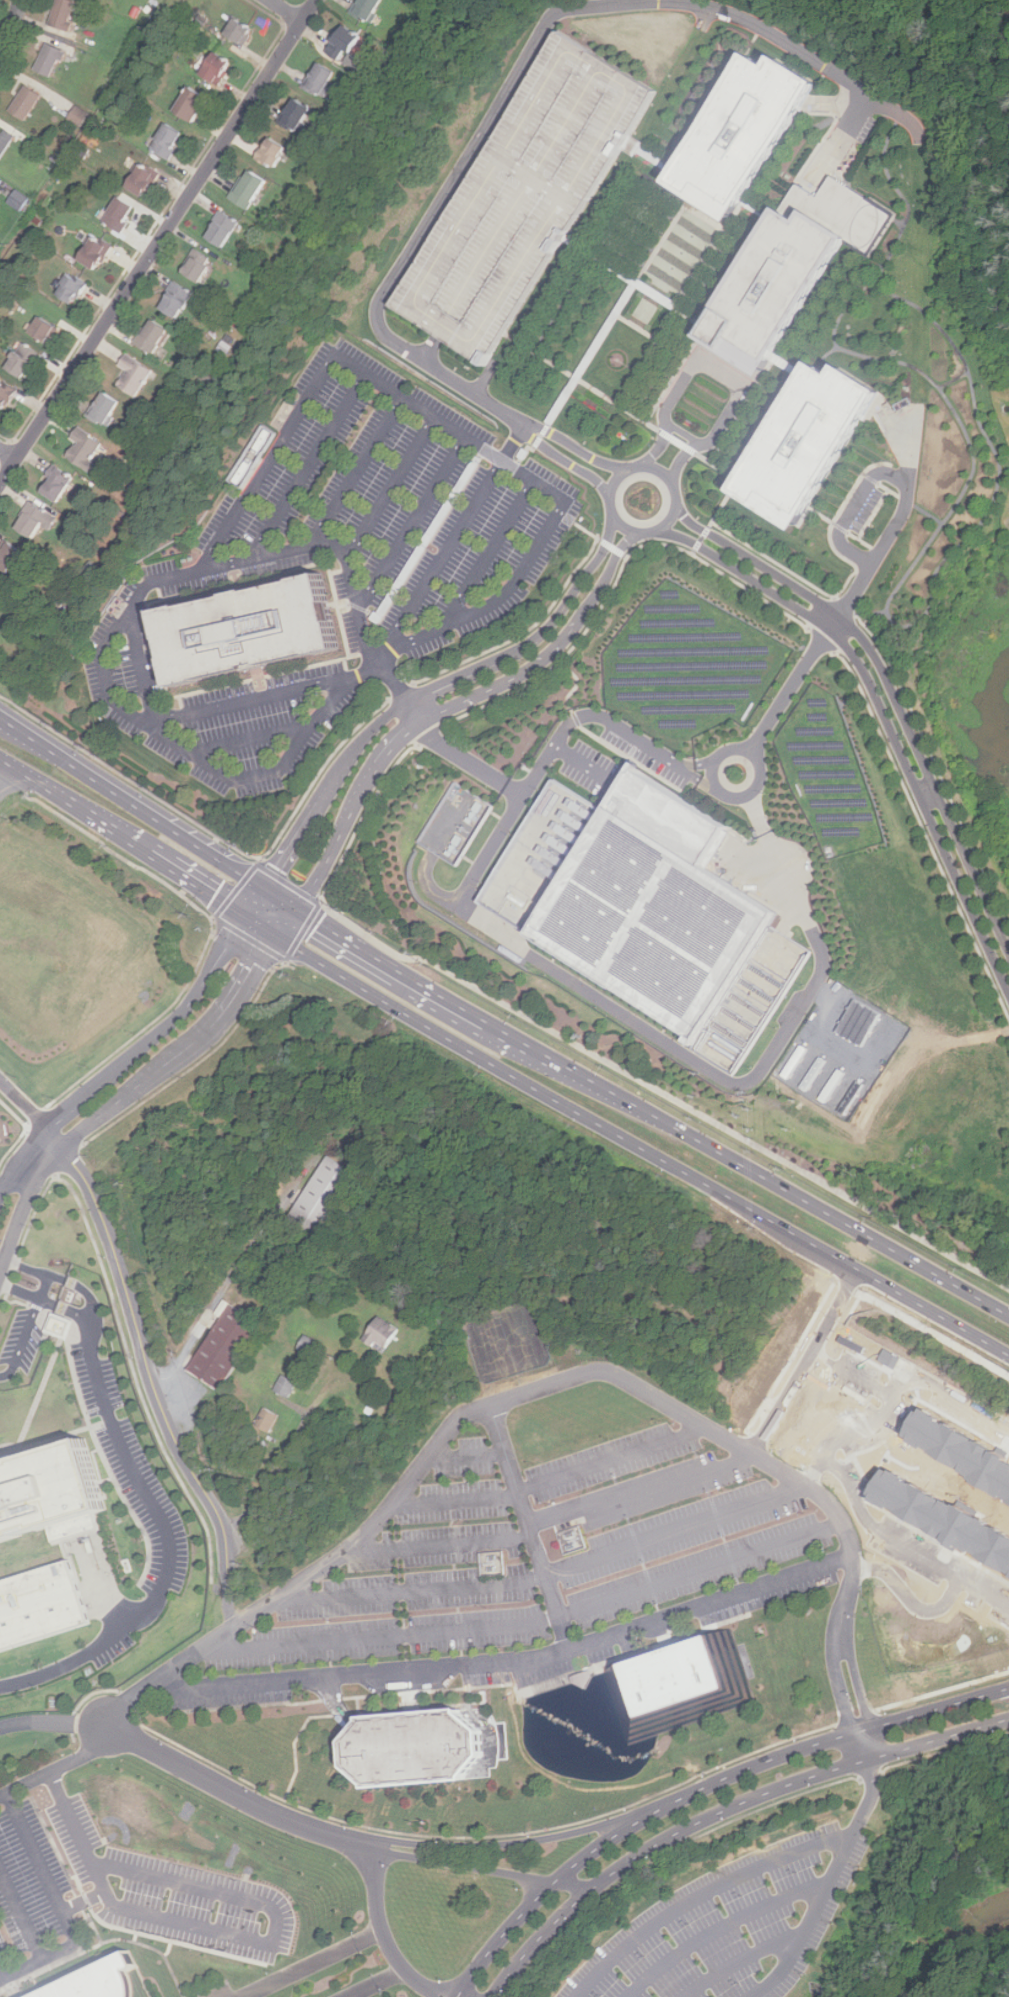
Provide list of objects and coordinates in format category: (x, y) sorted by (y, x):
building: (363, 8)
road: (286, 10)
building: (61, 13)
road: (12, 28)
building: (236, 31)
building: (340, 42)
building: (47, 59)
road: (520, 66)
building: (213, 68)
building: (317, 78)
building: (23, 102)
building: (187, 103)
building: (293, 114)
building: (77, 115)
building: (738, 134)
road: (840, 134)
building: (4, 140)
building: (164, 140)
building: (269, 152)
road: (647, 156)
building: (140, 179)
building: (246, 189)
building: (520, 198)
parking garage: (520, 198)
building: (17, 200)
road: (757, 208)
building: (116, 214)
building: (219, 228)
road: (158, 241)
building: (92, 252)
road: (709, 253)
building: (195, 266)
road: (871, 268)
building: (790, 269)
road: (635, 280)
building: (69, 288)
building: (173, 299)
road: (562, 302)
road: (637, 326)
building: (41, 330)
building: (150, 336)
road: (429, 348)
road: (592, 353)
road: (647, 355)
road: (827, 356)
flagpole: (617, 359)
building: (20, 360)
road: (627, 365)
road: (788, 367)
road: (720, 372)
road: (676, 373)
building: (132, 375)
road: (954, 379)
building: (4, 395)
road: (622, 406)
building: (101, 408)
road: (742, 409)
road: (684, 434)
road: (538, 441)
building: (806, 445)
building: (82, 448)
road: (576, 448)
road: (8, 453)
road: (481, 453)
road: (524, 454)
road: (565, 460)
road: (518, 464)
road: (304, 468)
road: (353, 472)
road: (659, 472)
building: (53, 483)
road: (388, 488)
road: (889, 489)
road: (854, 508)
road: (929, 514)
road: (716, 517)
road: (647, 518)
building: (34, 519)
road: (410, 524)
road: (833, 526)
road: (844, 531)
road: (427, 540)
road: (450, 541)
road: (324, 545)
road: (613, 547)
building: (8, 555)
parking lot: (335, 570)
road: (171, 577)
road: (934, 587)
road: (855, 589)
road: (504, 592)
road: (363, 612)
road: (871, 613)
building: (245, 632)
solar farm: (688, 666)
road: (138, 679)
road: (578, 683)
road: (890, 689)
road: (902, 689)
road: (432, 691)
road: (254, 700)
road: (453, 705)
road: (883, 715)
road: (20, 738)
road: (244, 744)
road: (622, 753)
road: (404, 755)
road: (707, 761)
road: (8, 762)
road: (684, 762)
road: (583, 764)
road: (323, 768)
road: (686, 769)
road: (713, 775)
solar farm: (827, 775)
road: (8, 776)
road: (709, 782)
road: (45, 786)
road: (514, 791)
road: (131, 800)
road: (757, 813)
road: (159, 858)
road: (426, 885)
traffic signals: (264, 886)
road: (281, 897)
road: (254, 899)
traffic signals: (298, 909)
building: (655, 909)
traffic signals: (244, 912)
road: (262, 923)
traffic signals: (280, 934)
road: (578, 987)
road: (161, 1033)
road: (195, 1043)
road: (651, 1116)
road: (639, 1155)
road: (22, 1160)
building: (324, 1195)
road: (24, 1208)
road: (36, 1270)
road: (44, 1287)
road: (221, 1291)
road: (28, 1294)
road: (92, 1300)
road: (78, 1314)
road: (136, 1321)
building: (58, 1325)
building: (386, 1330)
road: (23, 1341)
park: (508, 1341)
building: (231, 1343)
building: (308, 1343)
building: (886, 1356)
road: (801, 1364)
road: (859, 1368)
road: (520, 1382)
building: (285, 1384)
road: (544, 1384)
road: (915, 1384)
road: (40, 1392)
building: (267, 1421)
road: (54, 1437)
building: (958, 1450)
road: (6, 1456)
road: (466, 1456)
road: (615, 1460)
road: (277, 1464)
road: (823, 1471)
road: (139, 1482)
road: (641, 1488)
building: (47, 1492)
road: (456, 1498)
building: (941, 1517)
road: (532, 1524)
road: (680, 1533)
road: (909, 1536)
building: (557, 1542)
road: (442, 1543)
building: (491, 1563)
parking lot: (528, 1569)
road: (701, 1570)
road: (97, 1573)
road: (414, 1586)
road: (913, 1589)
building: (38, 1604)
road: (229, 1607)
road: (384, 1632)
road: (80, 1657)
road: (515, 1659)
building: (680, 1684)
road: (937, 1708)
road: (55, 1722)
building: (409, 1749)
road: (749, 1766)
road: (61, 1767)
road: (239, 1793)
road: (722, 1809)
road: (507, 1844)
road: (597, 1848)
road: (463, 1866)
road: (838, 1872)
road: (573, 1884)
parking lot: (116, 1893)
road: (702, 1894)
road: (84, 1901)
road: (60, 1906)
road: (20, 1916)
parking lot: (735, 1923)
road: (112, 1926)
road: (723, 1926)
road: (229, 1934)
road: (386, 1935)
road: (501, 1935)
road: (135, 1937)
river: (954, 1938)
road: (101, 1943)
road: (169, 1950)
road: (743, 1959)
road: (310, 1963)
building: (97, 1981)
road: (379, 1983)

